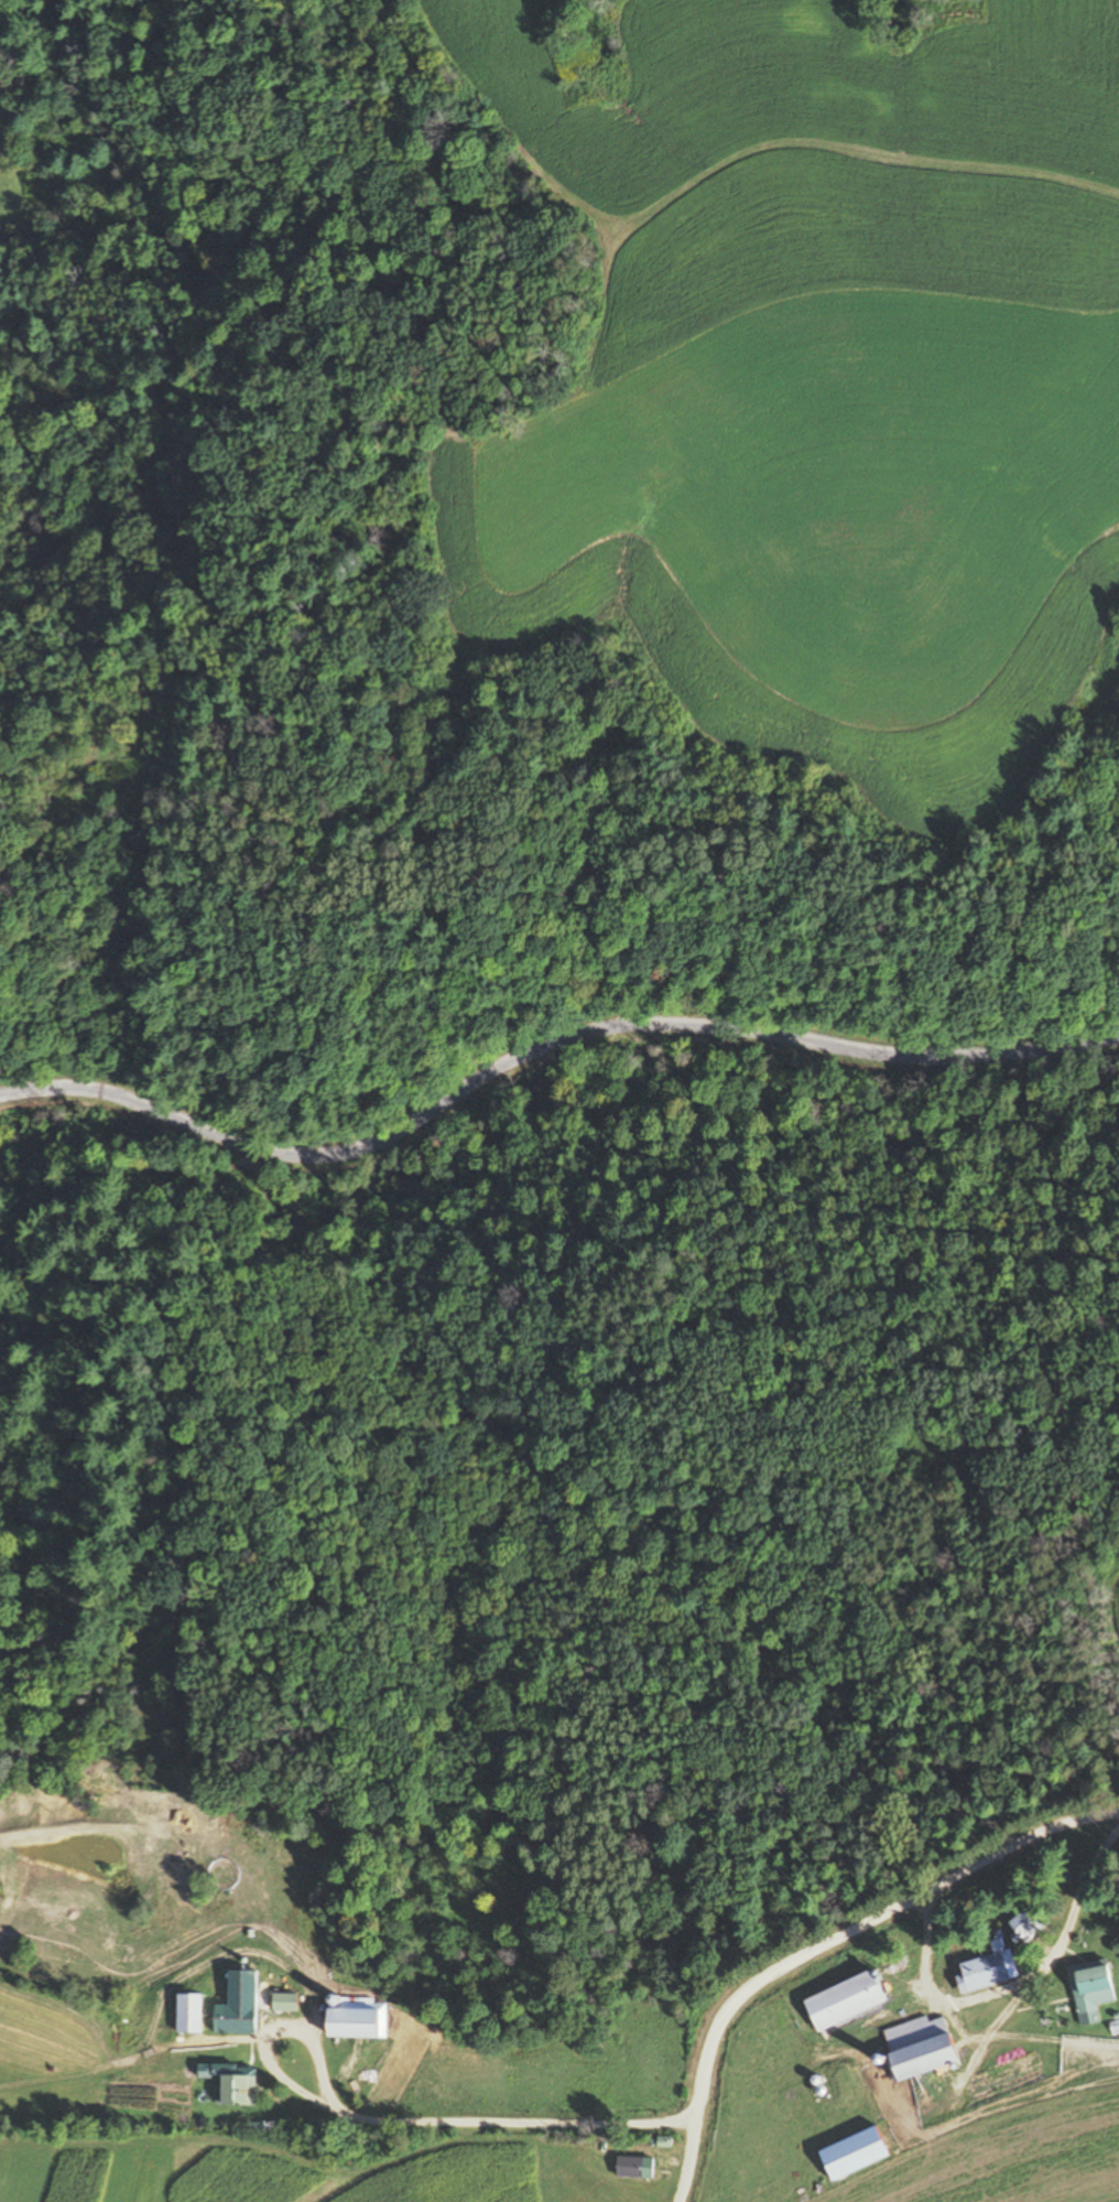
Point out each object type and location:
road: (544, 1059)
building: (1028, 1924)
road: (826, 1945)
building: (987, 1972)
building: (1091, 1987)
road: (1011, 1996)
building: (285, 2003)
building: (189, 2014)
building: (236, 2020)
building: (358, 2021)
building: (919, 2049)
building: (238, 2090)
road: (402, 2118)
building: (634, 2168)

